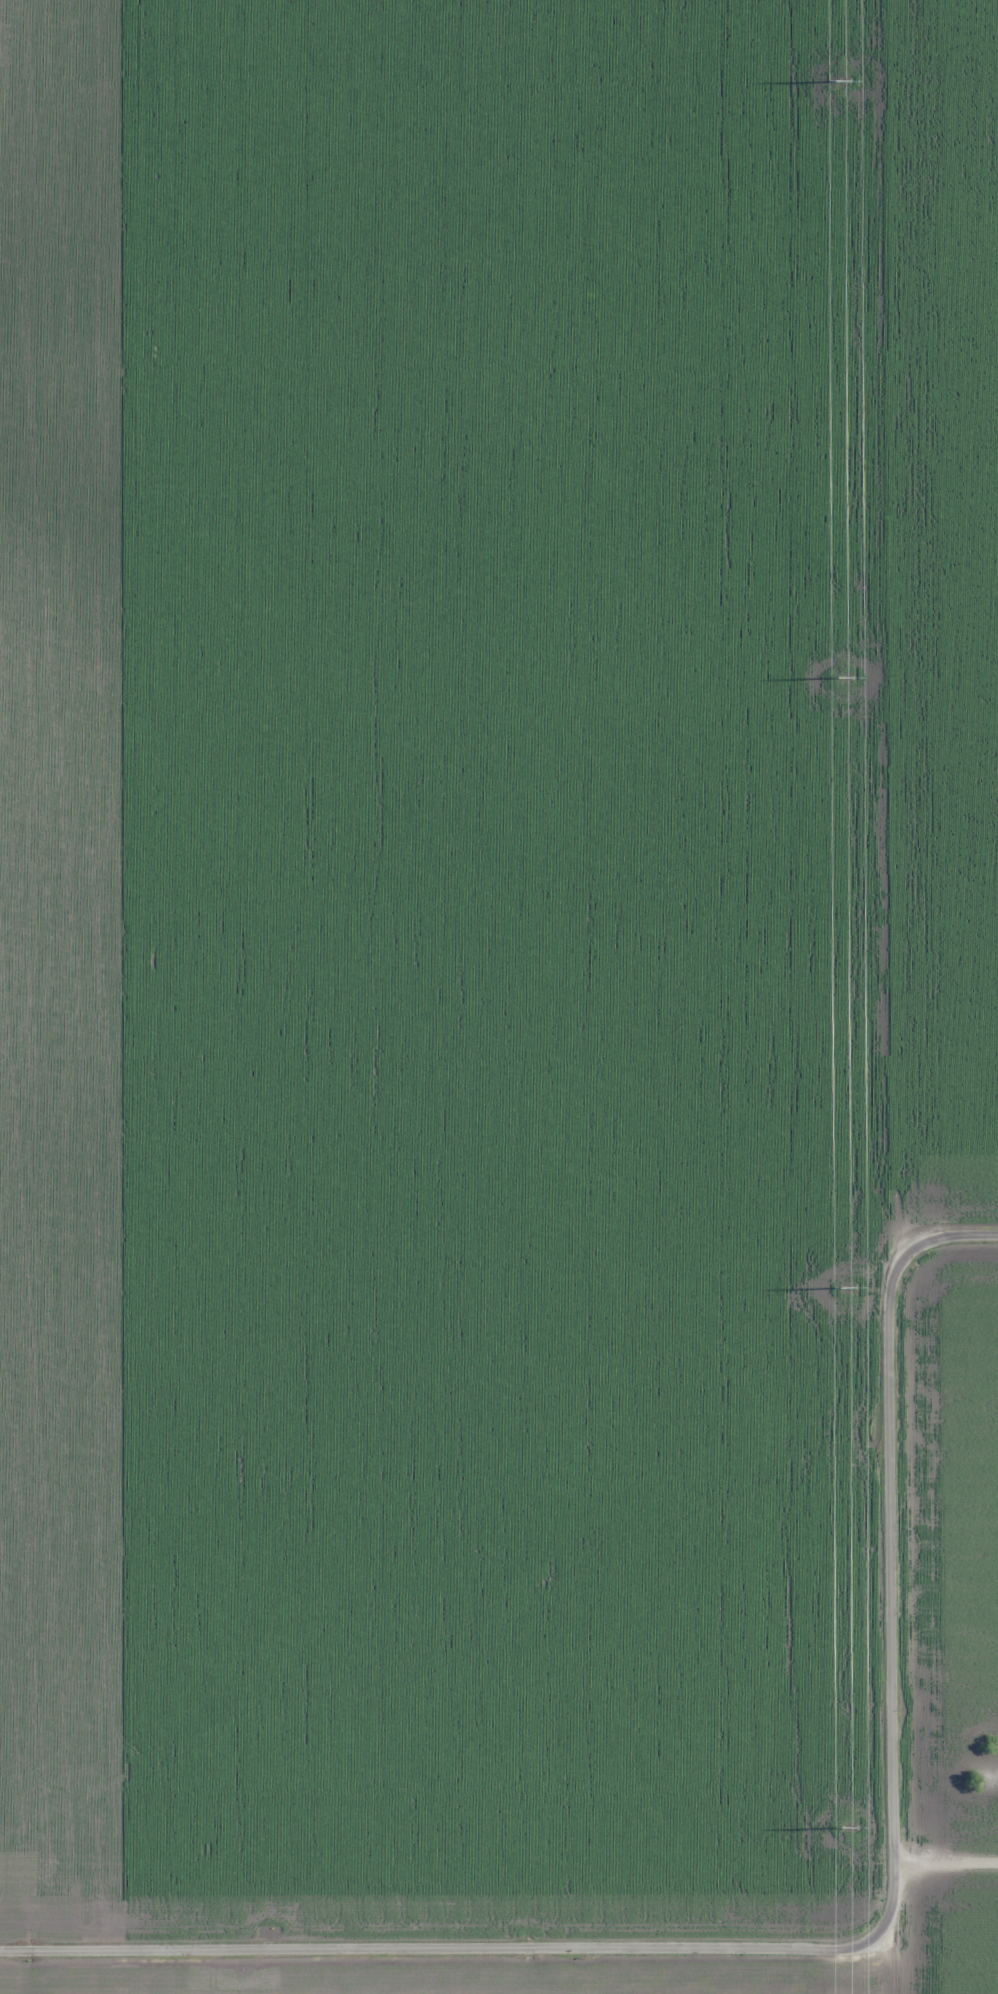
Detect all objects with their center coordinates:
power tower: (841, 80)
power tower: (843, 674)
road: (952, 1212)
power tower: (845, 1284)
road: (902, 1603)
power tower: (848, 1825)
road: (949, 1862)
road: (455, 1944)

